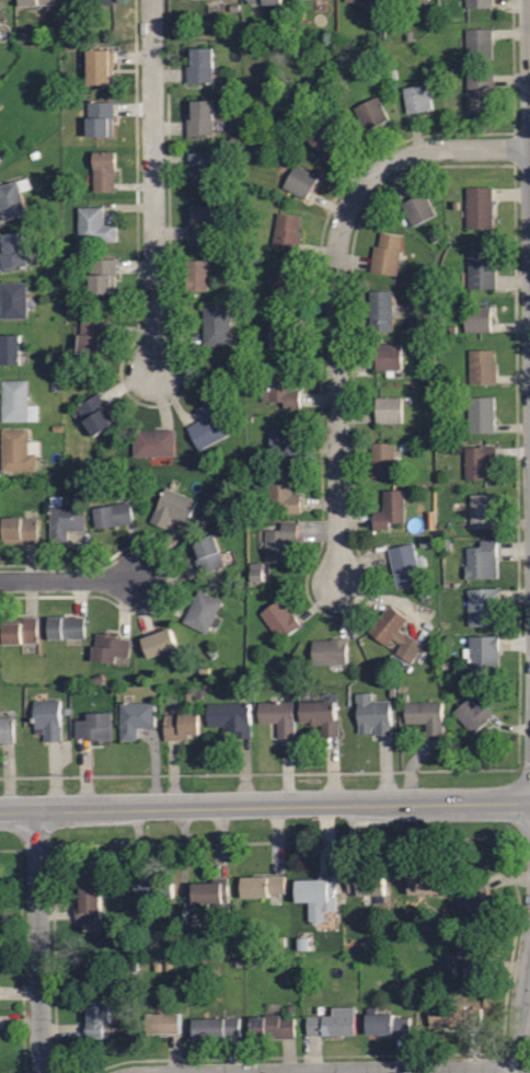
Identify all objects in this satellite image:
building: (194, 0)
building: (355, 0)
building: (263, 1)
building: (7, 2)
building: (38, 2)
building: (93, 2)
building: (482, 2)
road: (529, 15)
building: (480, 43)
building: (199, 65)
building: (100, 66)
building: (479, 91)
building: (417, 96)
building: (370, 112)
building: (97, 117)
building: (200, 117)
building: (323, 135)
building: (1, 161)
building: (201, 169)
building: (104, 171)
building: (300, 181)
road: (151, 186)
building: (13, 199)
building: (479, 206)
building: (417, 208)
building: (201, 222)
building: (94, 224)
building: (287, 231)
building: (12, 250)
building: (387, 253)
building: (481, 267)
building: (102, 275)
building: (198, 275)
building: (281, 281)
road: (336, 291)
building: (13, 299)
building: (380, 310)
building: (477, 318)
building: (217, 324)
building: (281, 334)
building: (91, 336)
building: (10, 348)
building: (388, 356)
building: (482, 366)
building: (280, 389)
building: (16, 401)
building: (388, 409)
building: (95, 414)
building: (481, 414)
building: (207, 426)
building: (283, 439)
building: (153, 441)
building: (19, 450)
building: (382, 460)
building: (477, 461)
building: (283, 493)
building: (172, 508)
building: (390, 509)
building: (483, 511)
building: (112, 515)
building: (65, 519)
building: (21, 529)
building: (280, 541)
building: (207, 554)
building: (482, 559)
building: (405, 564)
road: (69, 579)
building: (485, 609)
building: (203, 611)
building: (280, 620)
building: (66, 627)
building: (21, 630)
building: (395, 633)
building: (159, 643)
building: (110, 647)
building: (330, 650)
building: (483, 655)
building: (473, 714)
building: (325, 715)
building: (373, 715)
building: (48, 717)
building: (231, 717)
building: (136, 718)
building: (280, 718)
building: (426, 718)
building: (181, 725)
building: (94, 726)
building: (7, 729)
road: (265, 806)
building: (424, 882)
building: (263, 885)
building: (366, 885)
building: (153, 887)
building: (212, 892)
building: (316, 896)
building: (476, 898)
building: (92, 900)
road: (38, 942)
building: (475, 958)
road: (521, 1009)
building: (96, 1014)
building: (452, 1015)
building: (165, 1019)
building: (333, 1022)
building: (388, 1023)
building: (216, 1024)
building: (270, 1026)
road: (379, 1071)

